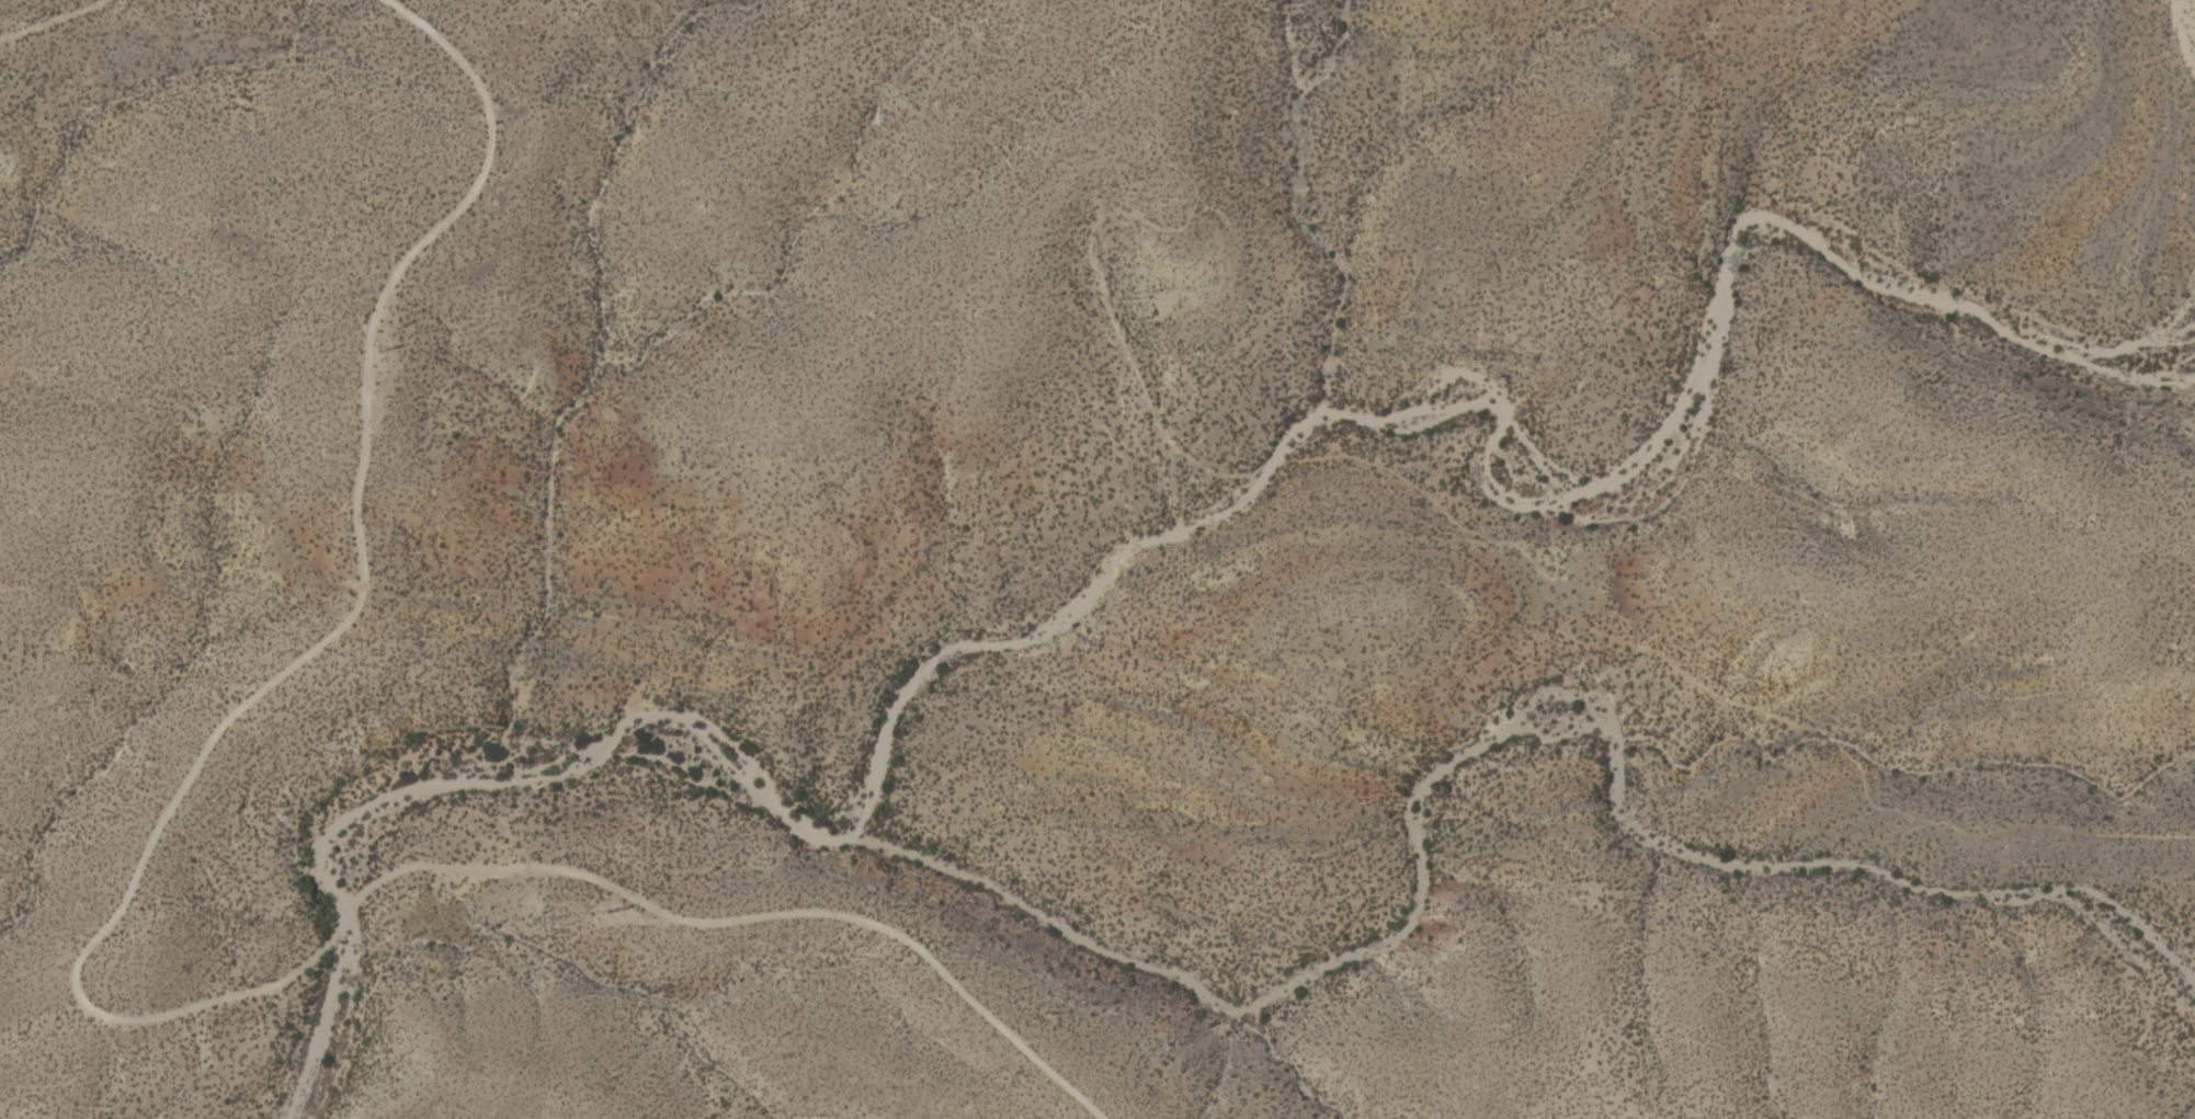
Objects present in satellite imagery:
road: (1449, 517)
road: (75, 984)

